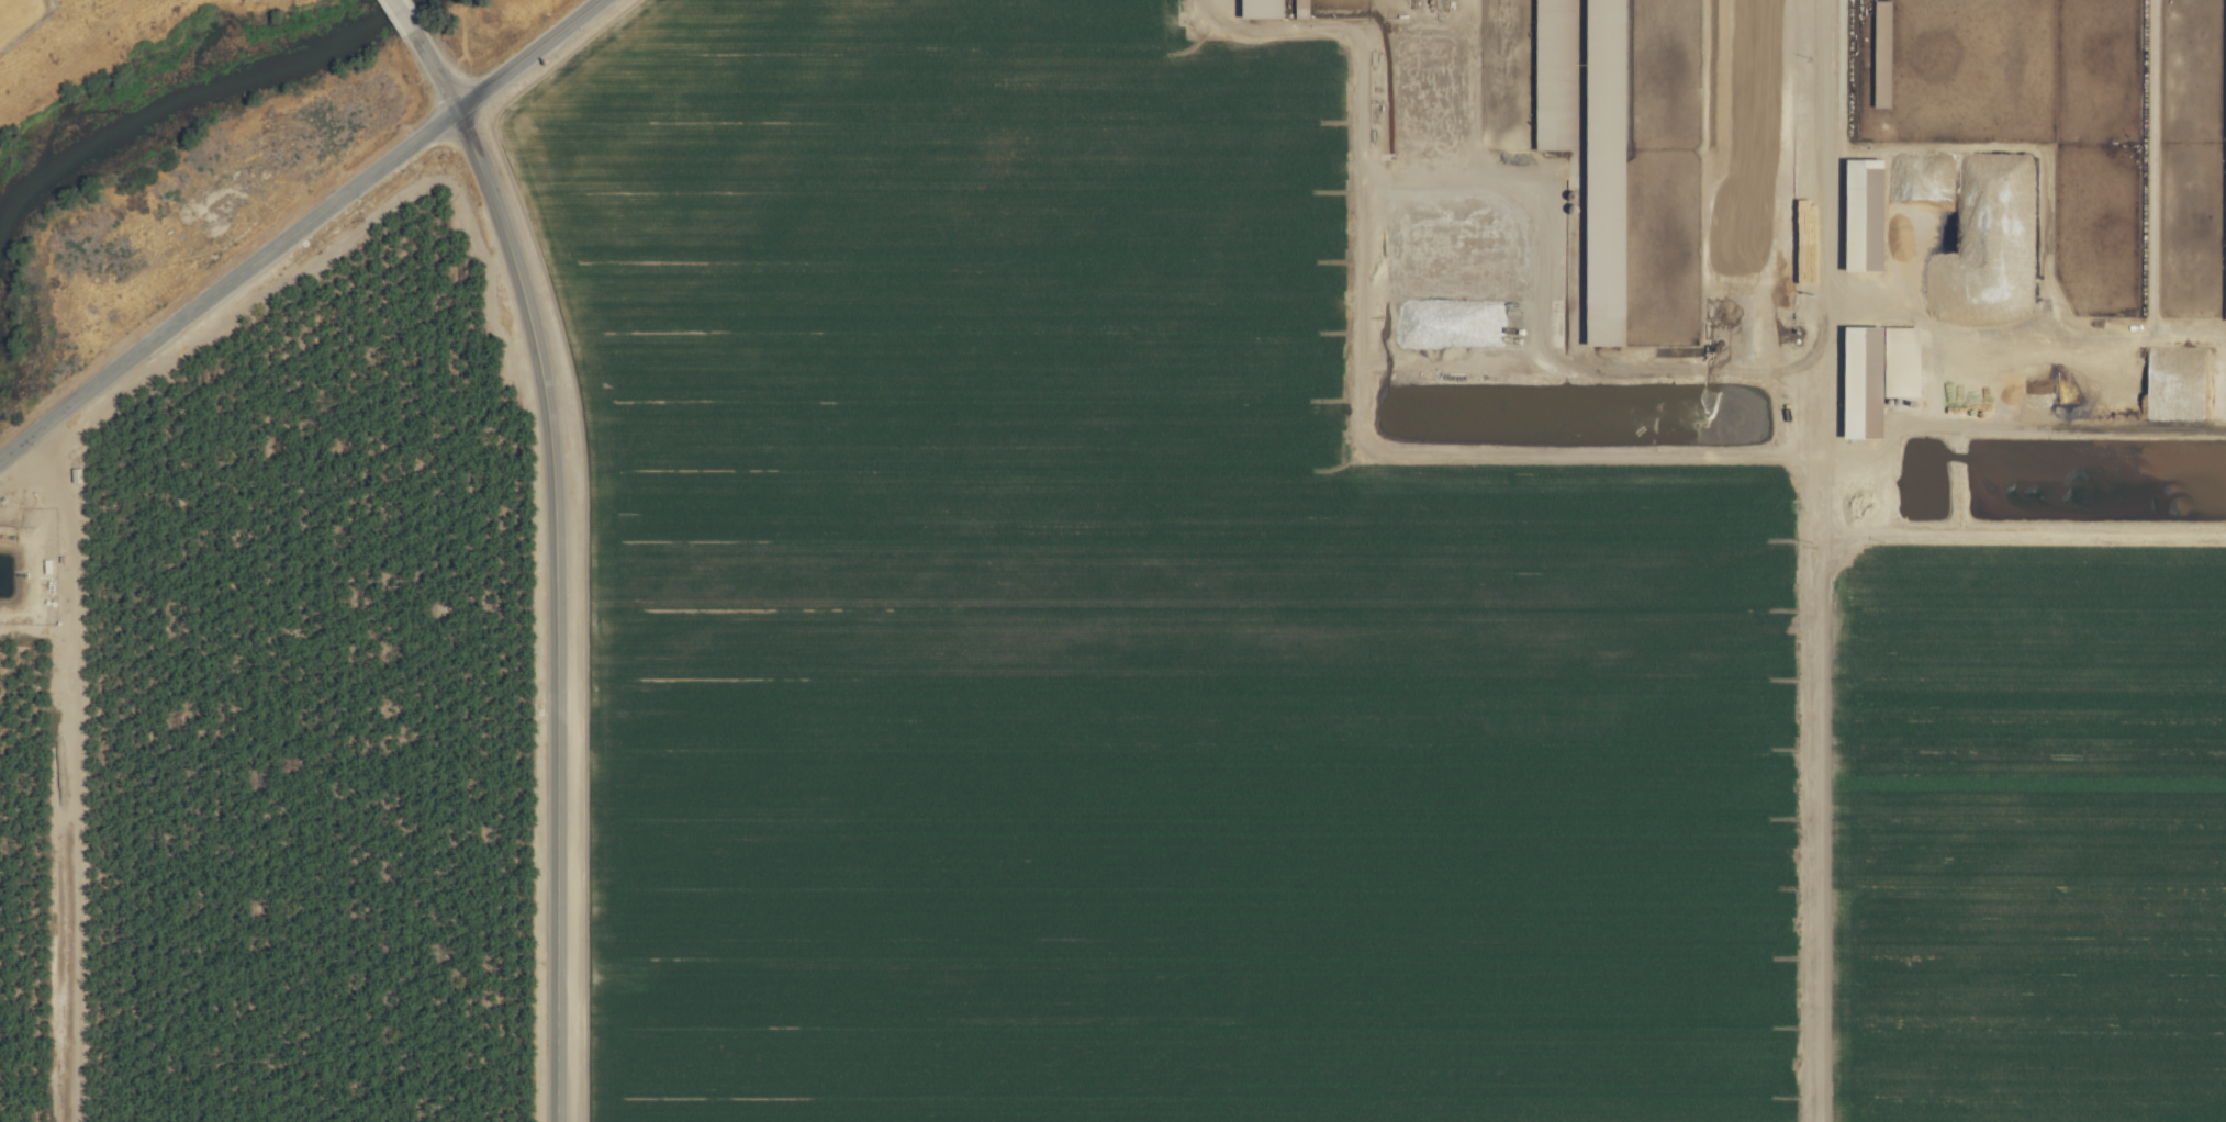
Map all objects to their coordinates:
road: (400, 14)
airport: (21, 18)
road: (433, 70)
building: (1863, 214)
road: (299, 228)
building: (2225, 271)
road: (1827, 277)
building: (1876, 374)
building: (75, 474)
crop: (1177, 588)
road: (555, 609)

